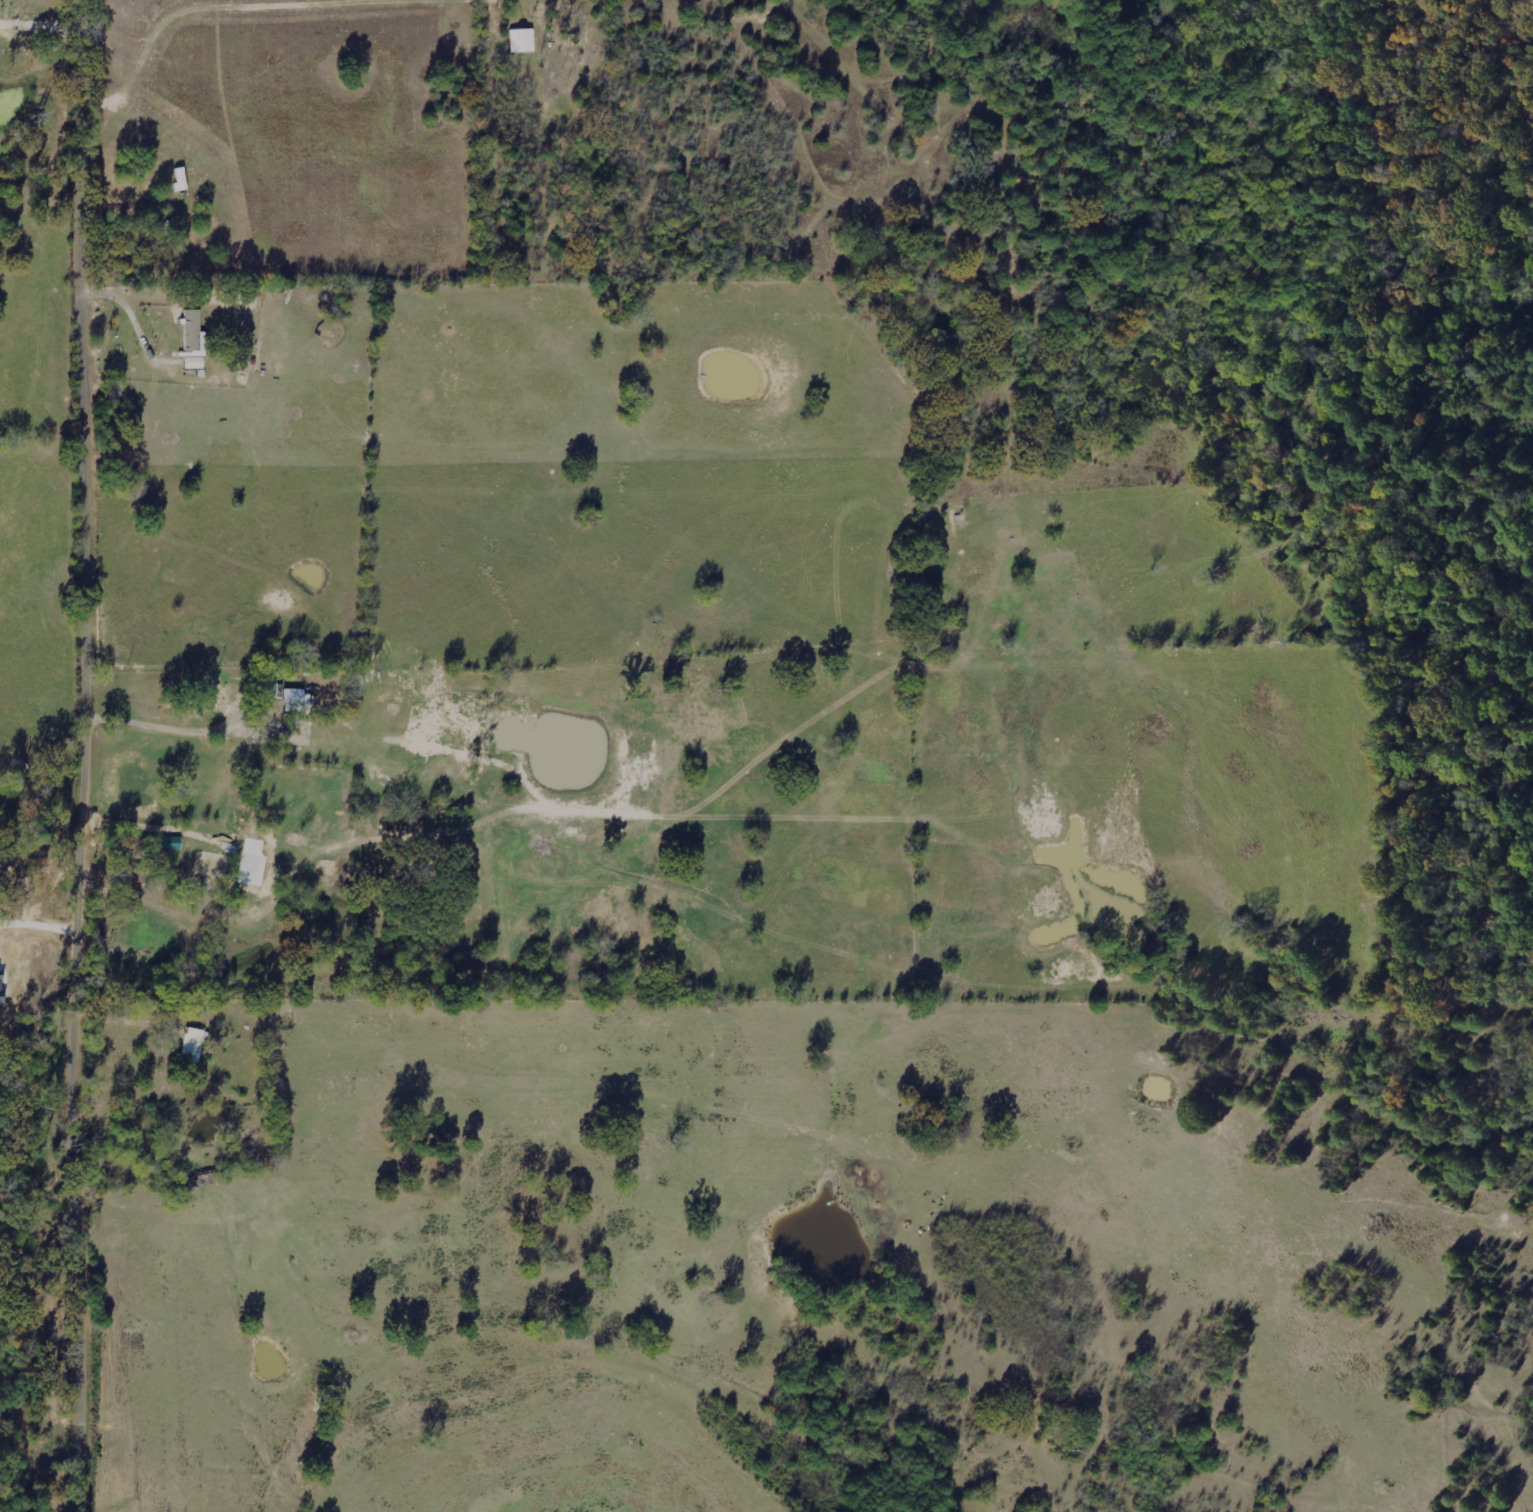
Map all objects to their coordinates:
building: (523, 40)
building: (182, 179)
building: (195, 340)
road: (93, 756)
building: (240, 822)
building: (172, 842)
building: (194, 1044)

